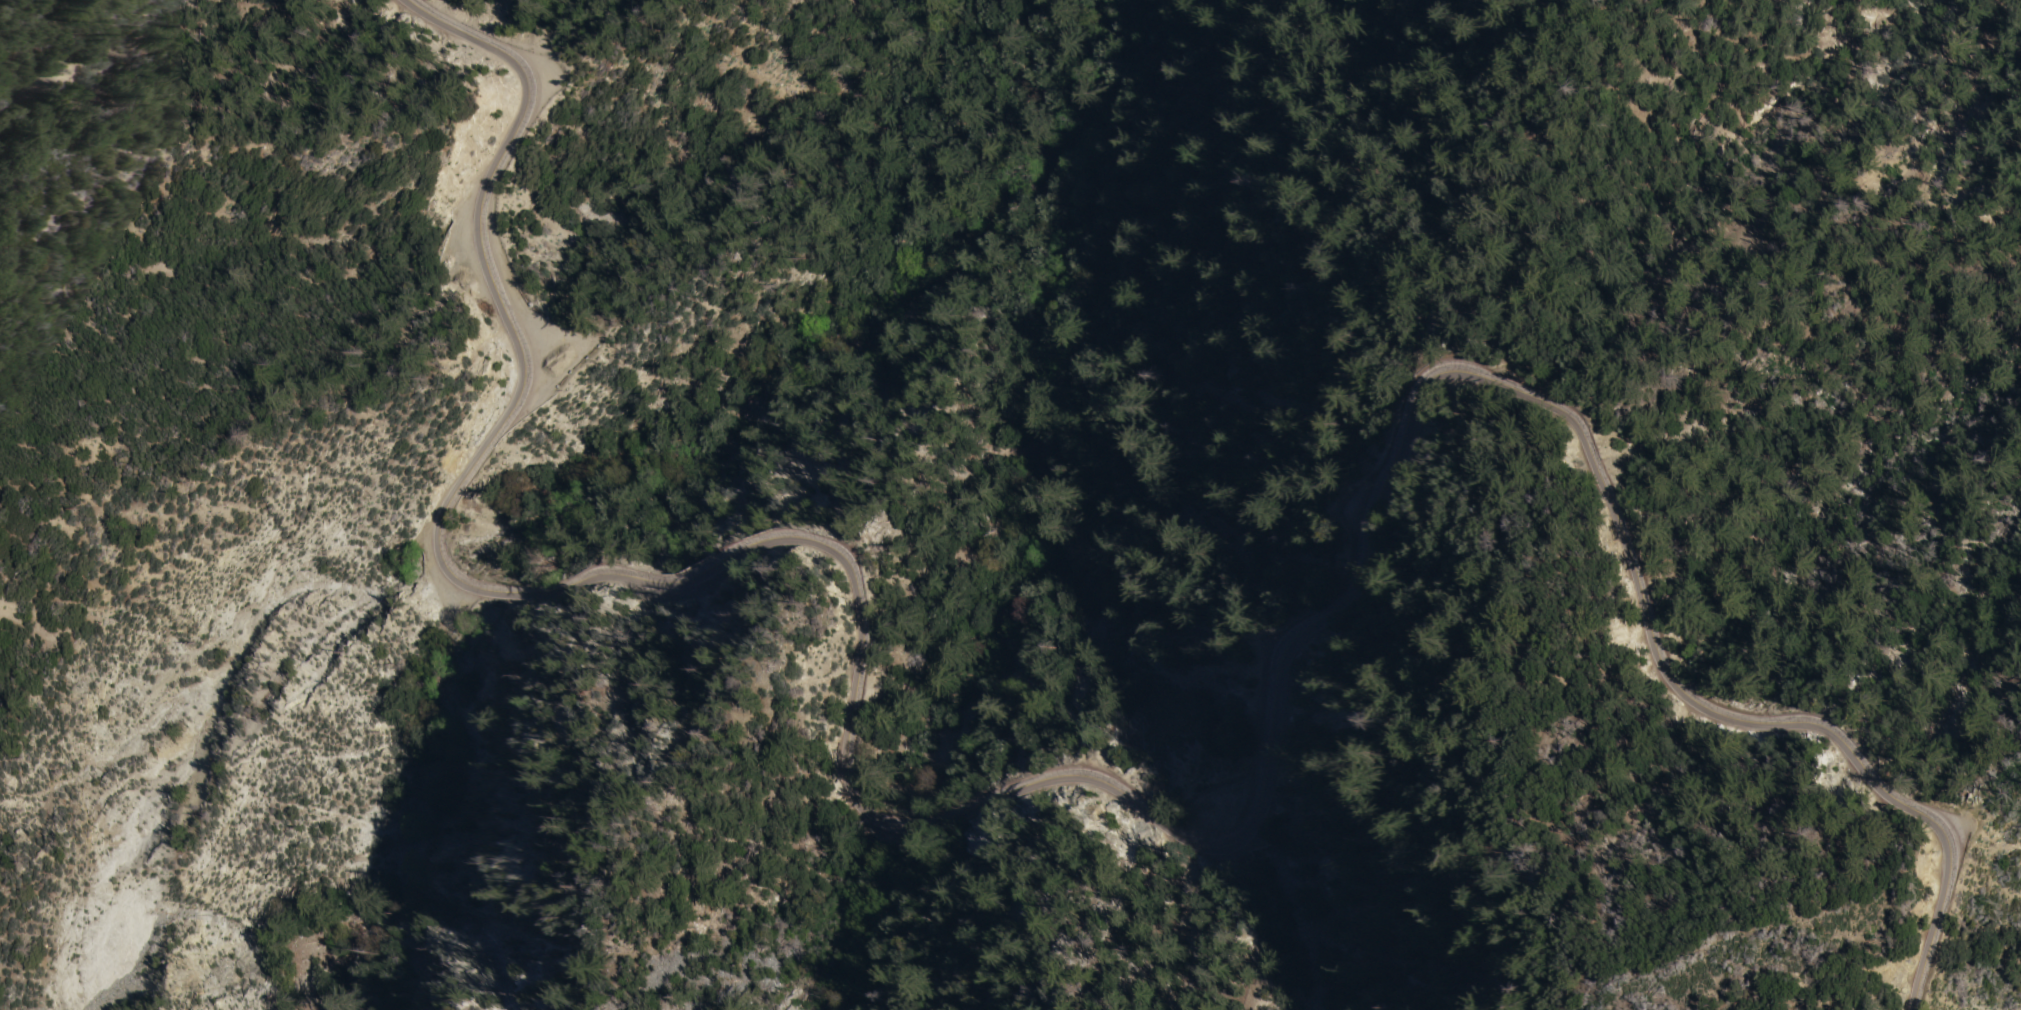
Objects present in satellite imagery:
road: (1083, 775)

